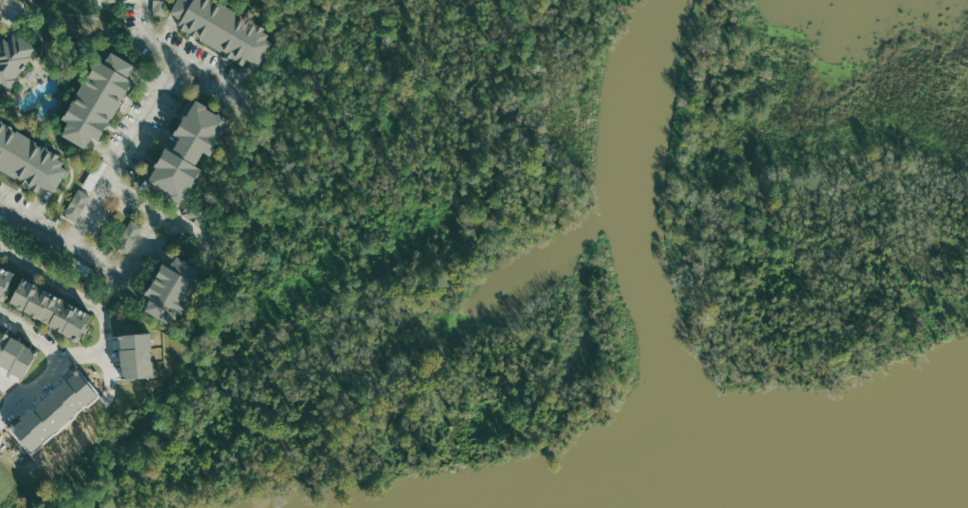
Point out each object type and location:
building: (112, 1)
road: (0, 2)
building: (159, 7)
building: (223, 29)
building: (12, 58)
road: (210, 75)
building: (97, 98)
building: (186, 150)
building: (30, 161)
road: (127, 196)
building: (77, 204)
road: (88, 213)
building: (193, 214)
building: (129, 236)
building: (4, 280)
building: (173, 289)
building: (49, 308)
road: (30, 334)
road: (103, 341)
building: (134, 354)
road: (82, 356)
building: (14, 357)
road: (49, 378)
road: (15, 391)
road: (13, 408)

